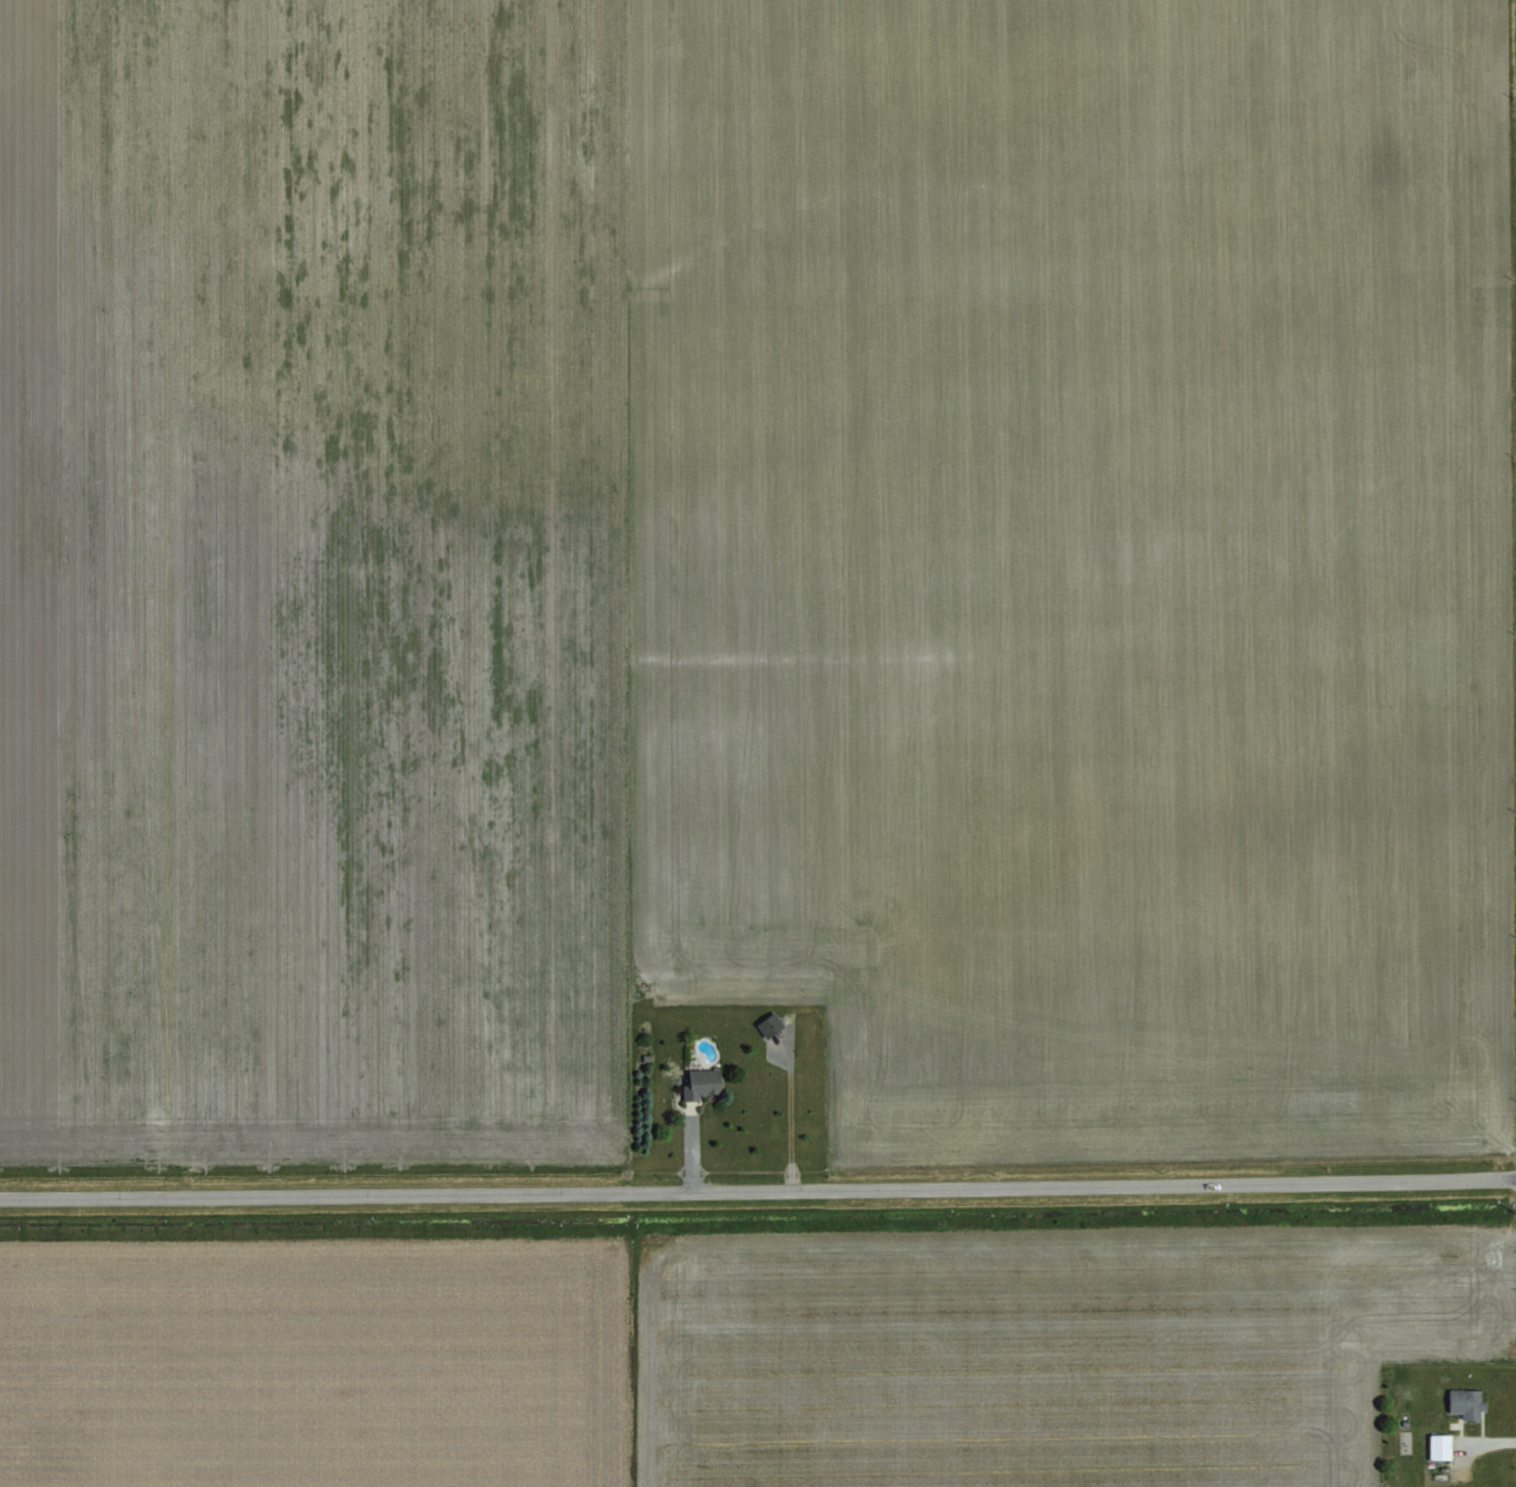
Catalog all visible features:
road: (758, 1186)
building: (1434, 1444)

